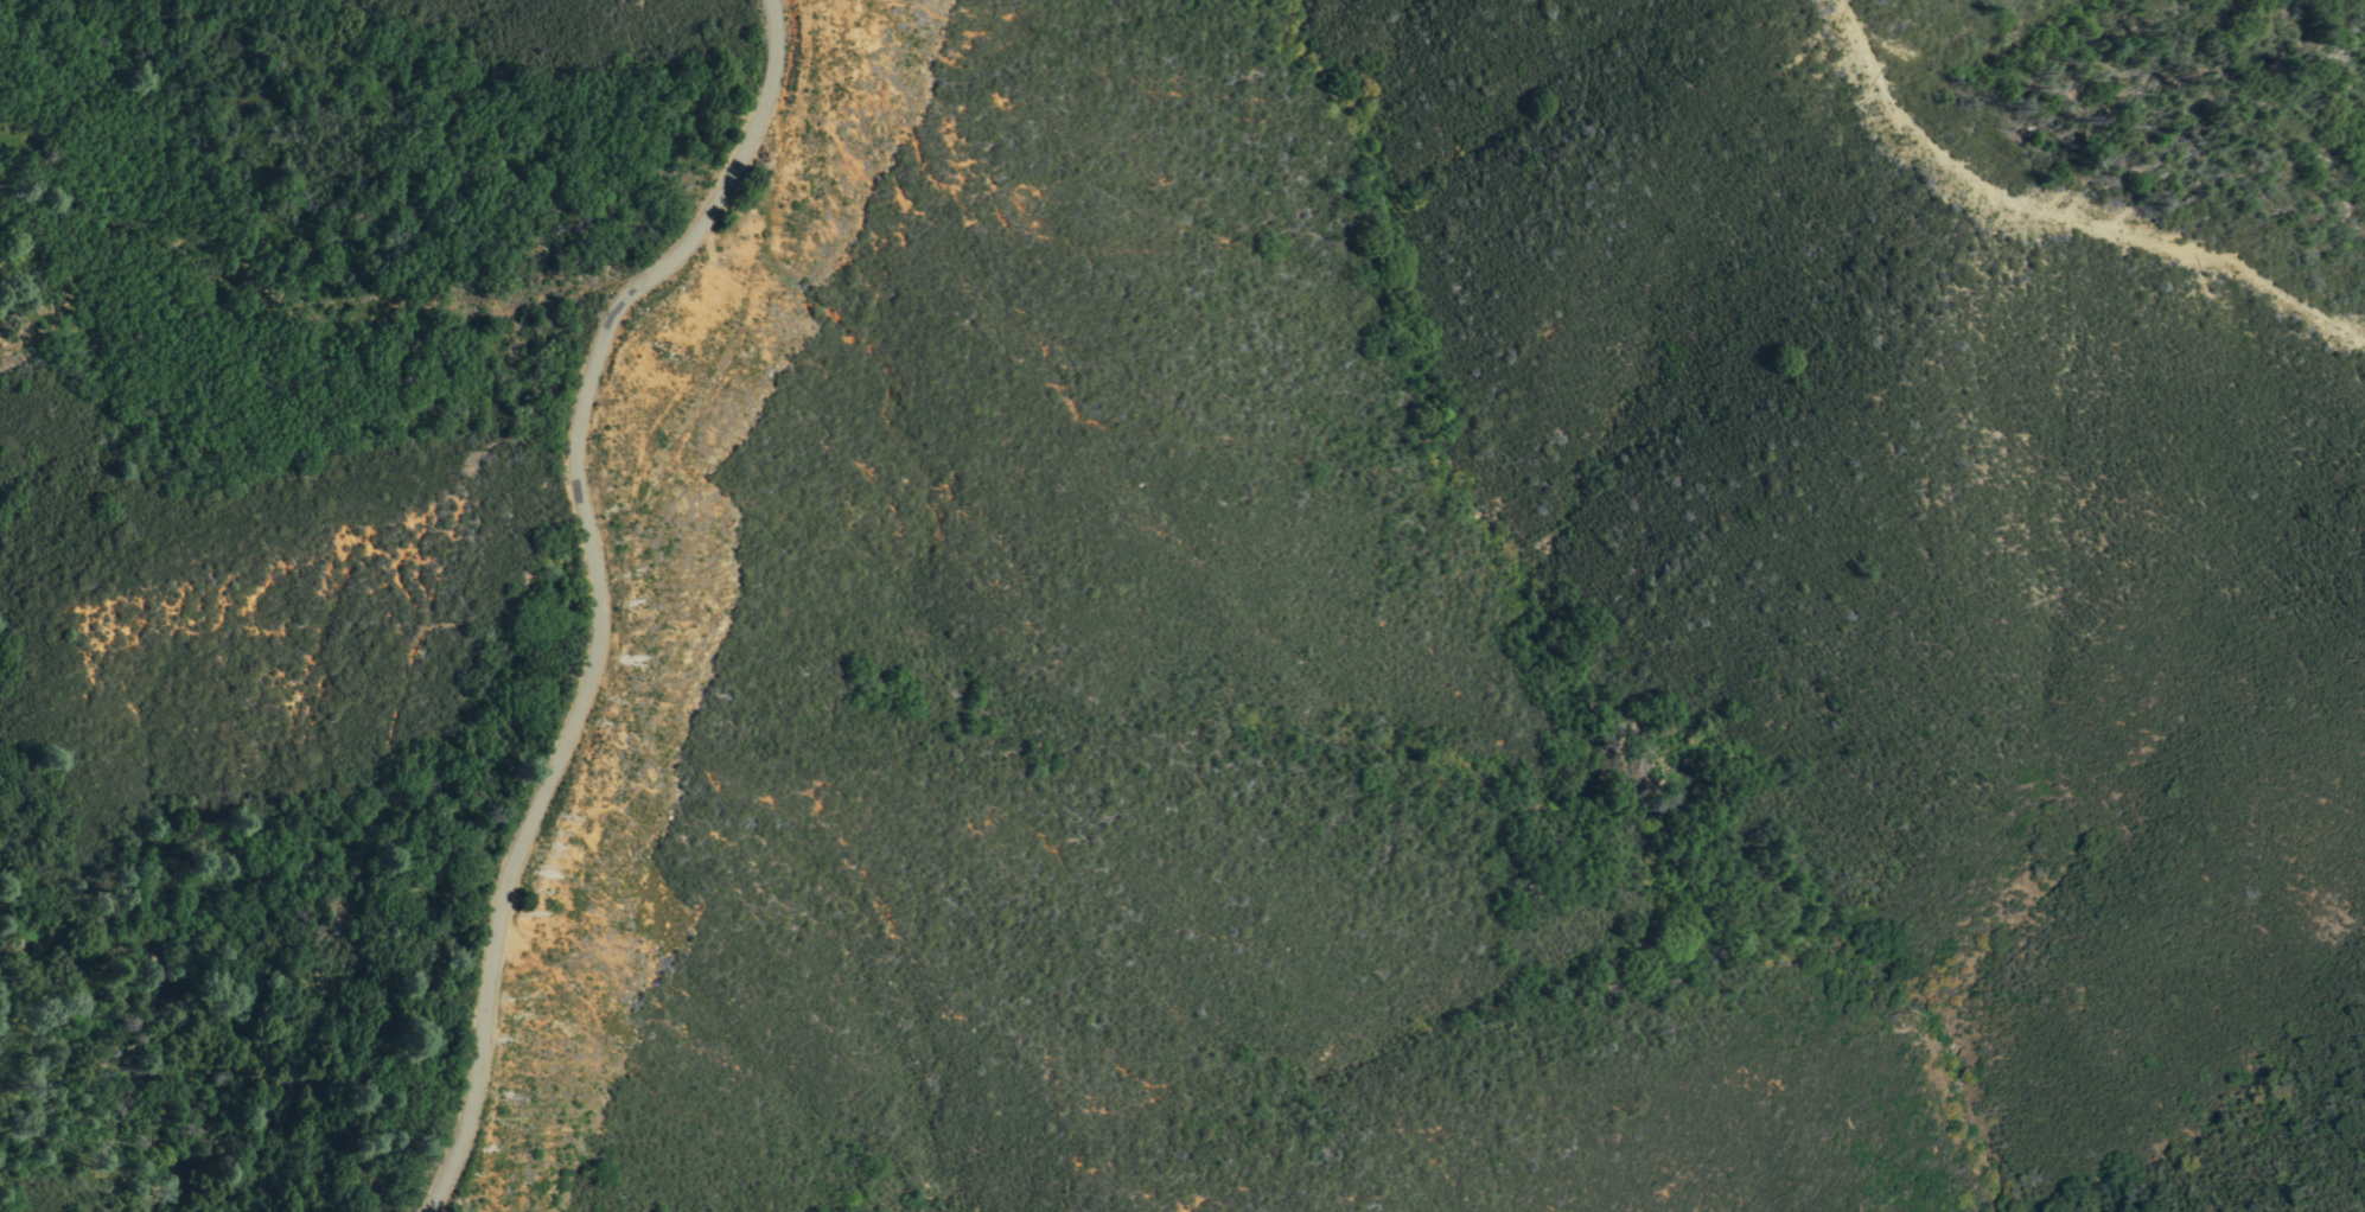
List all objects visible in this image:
road: (2071, 208)
road: (599, 589)

